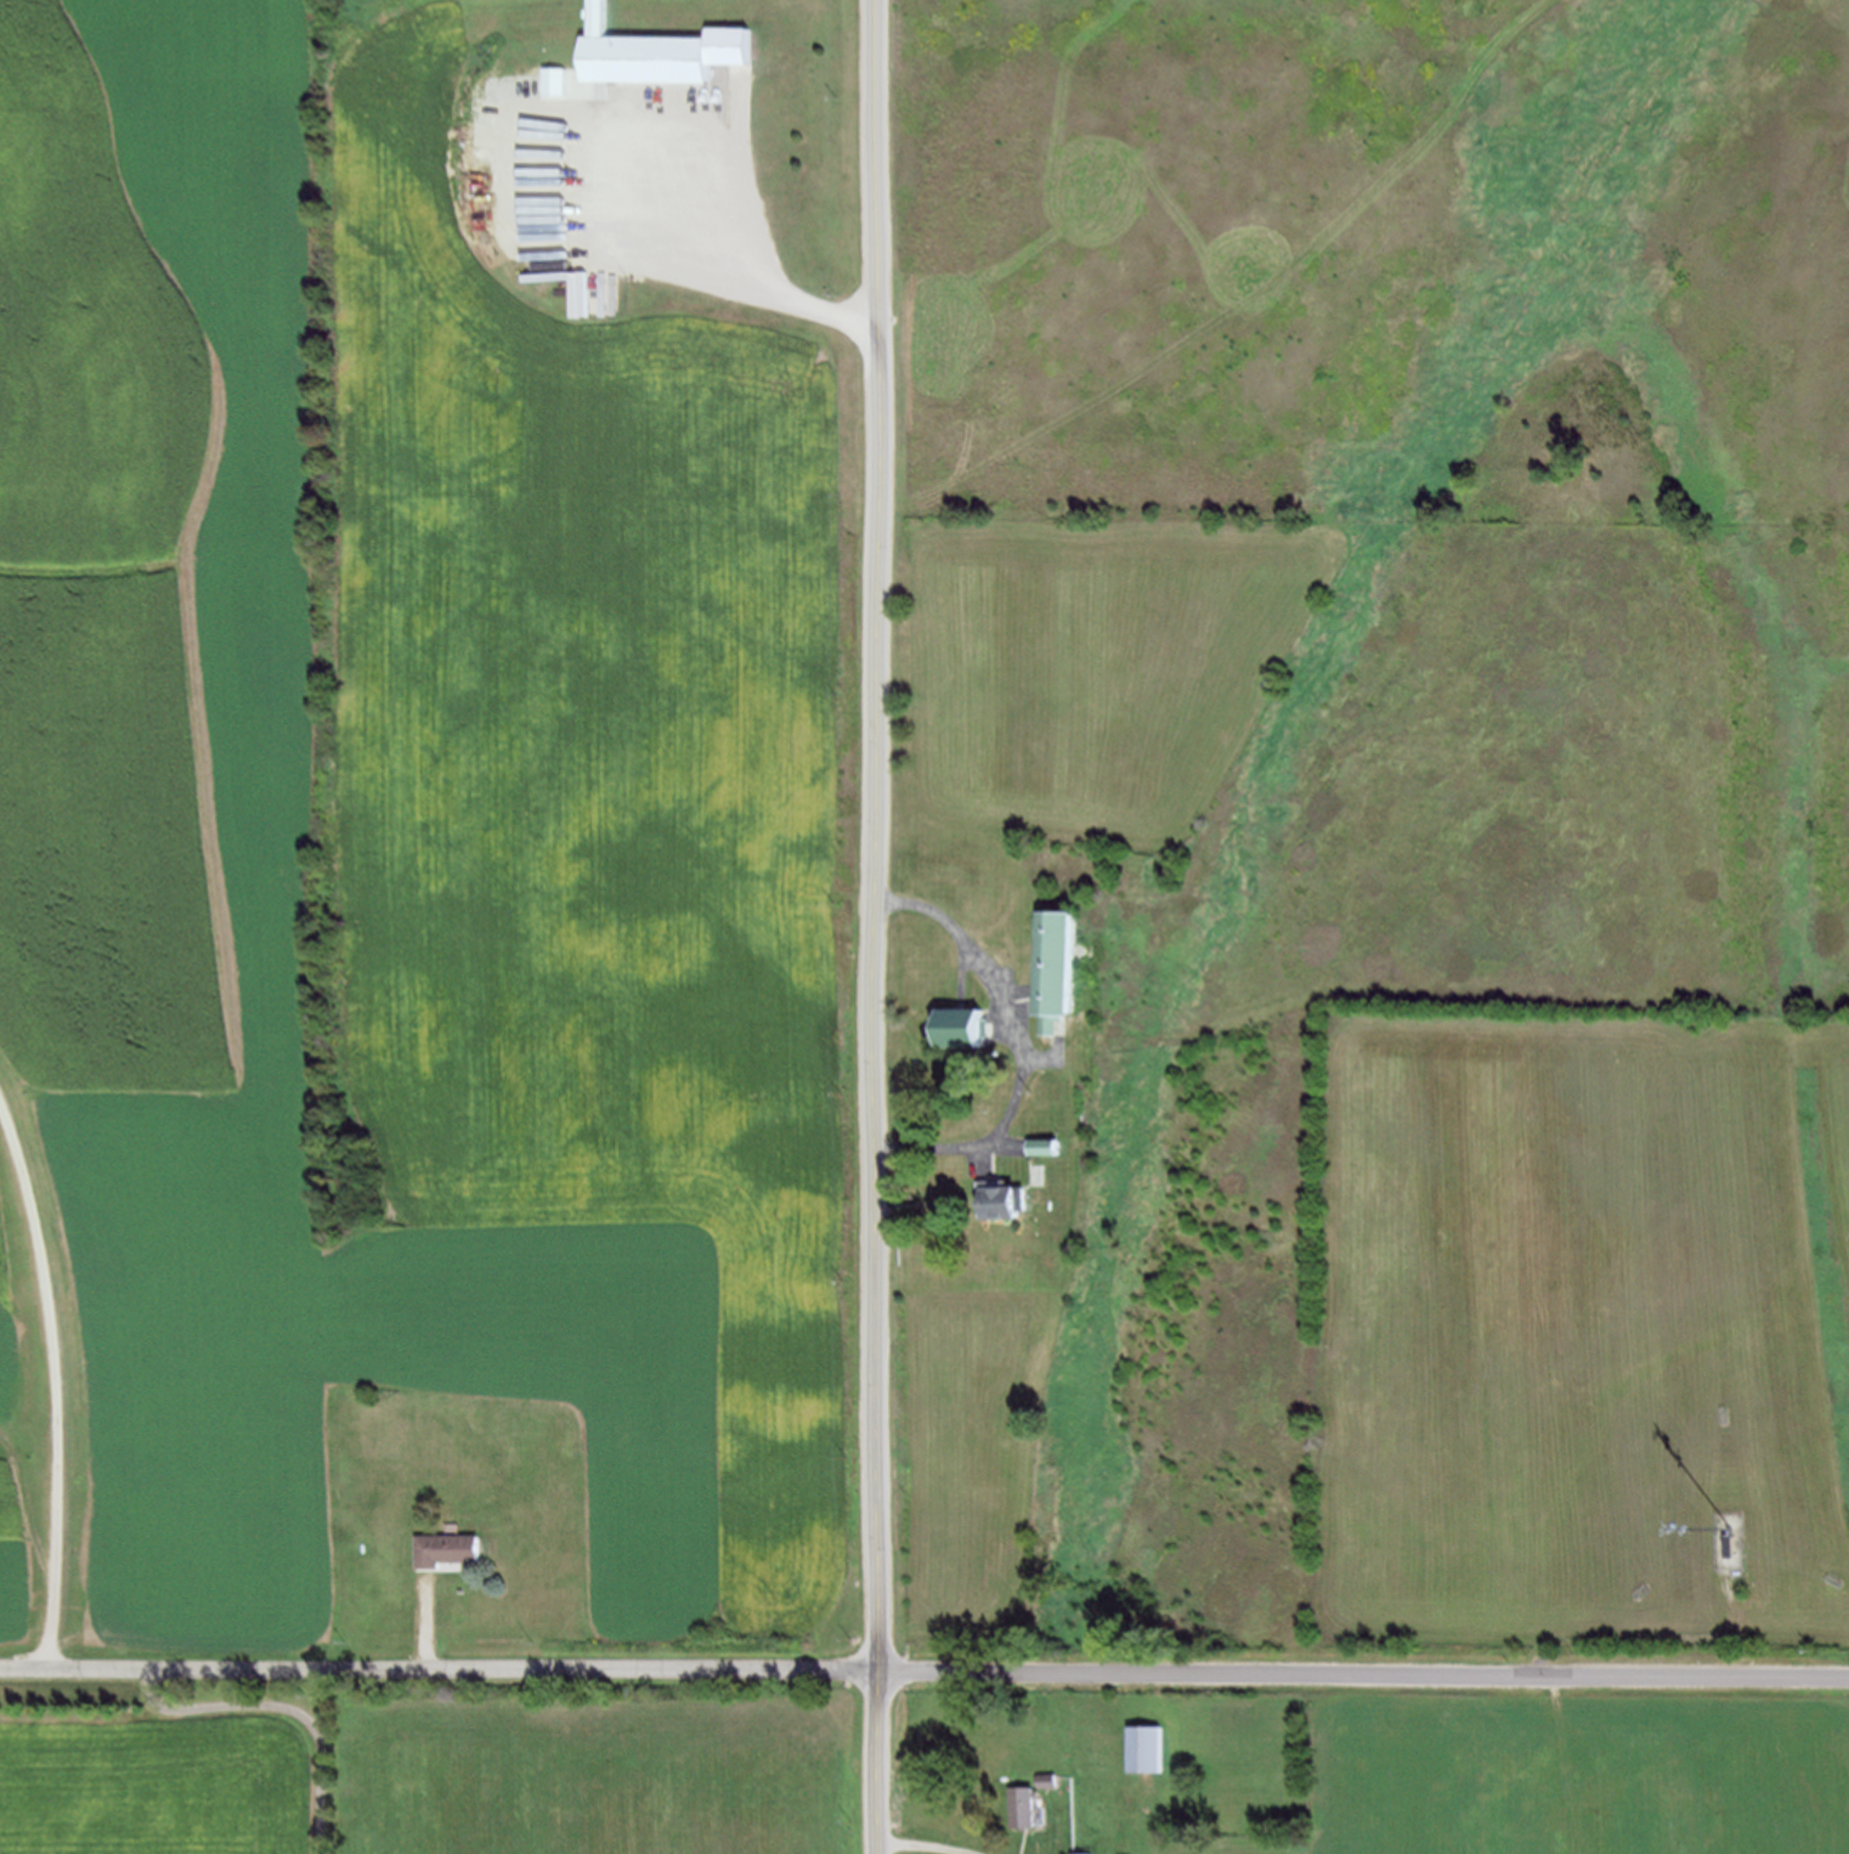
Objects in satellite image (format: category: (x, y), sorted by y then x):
building: (672, 64)
road: (747, 264)
road: (215, 367)
road: (877, 833)
building: (1062, 980)
building: (966, 1042)
road: (1017, 1051)
building: (1053, 1146)
building: (1048, 1158)
building: (1000, 1214)
road: (50, 1377)
building: (1735, 1547)
building: (448, 1549)
road: (422, 1627)
road: (1645, 1635)
road: (924, 1668)
road: (287, 1705)
road: (83, 1720)
building: (1154, 1753)
road: (881, 1760)
building: (1056, 1779)
building: (1027, 1805)
road: (926, 1843)
building: (1090, 1853)

